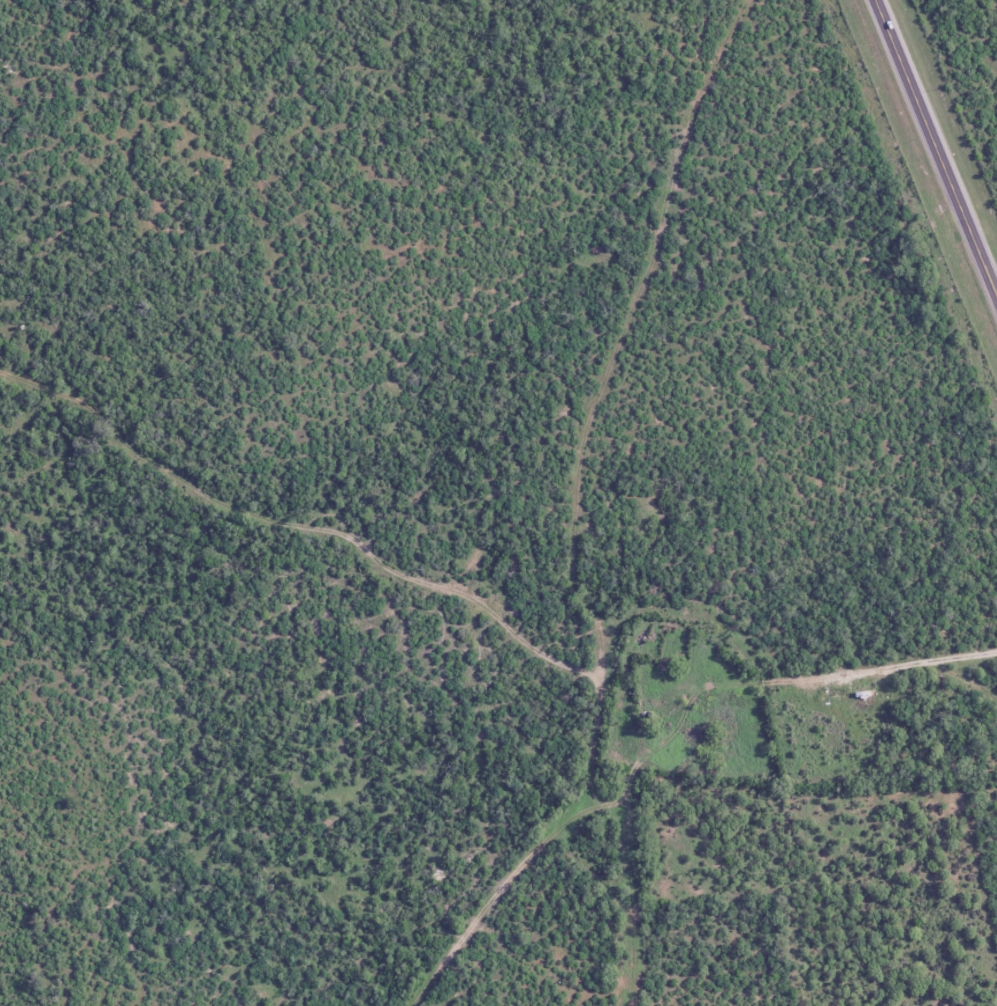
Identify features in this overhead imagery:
power tower: (835, 15)
road: (937, 143)
power tower: (946, 288)
road: (918, 666)

